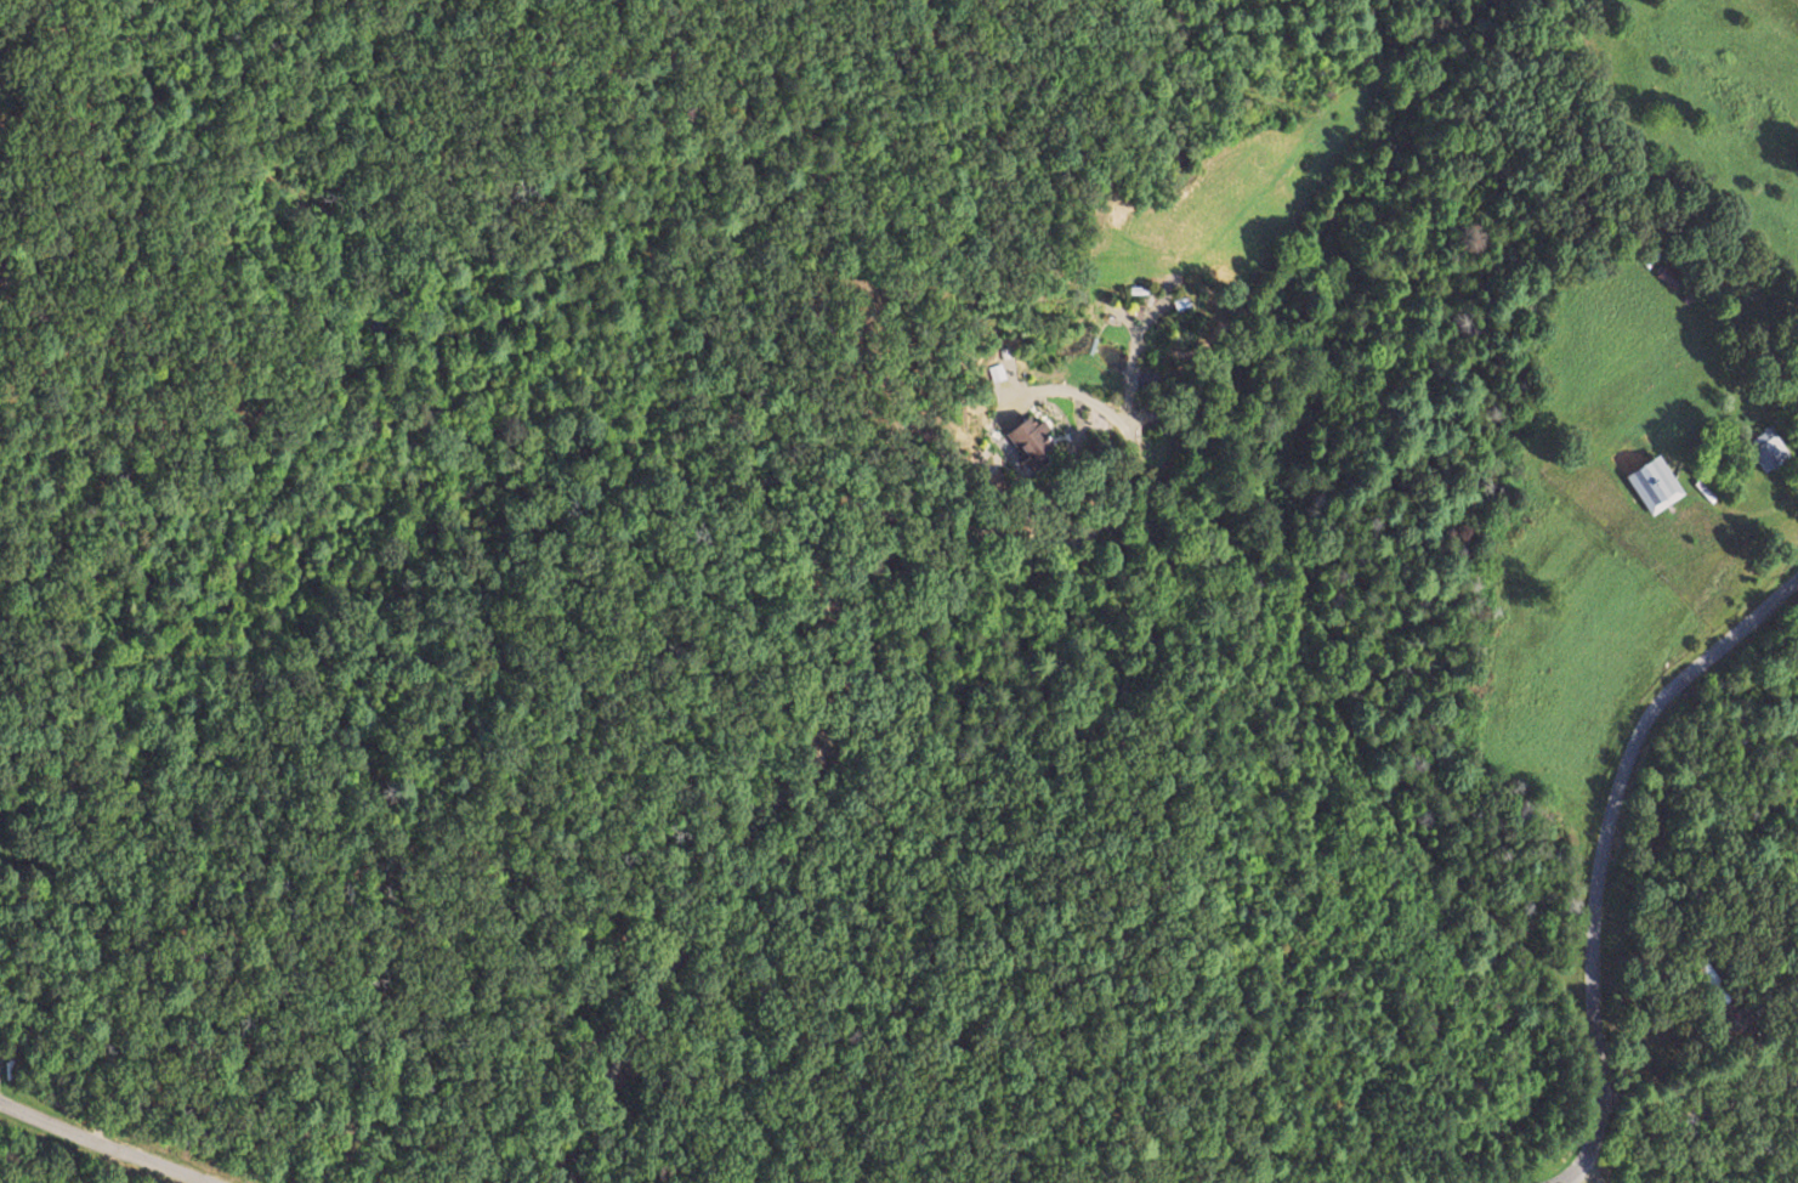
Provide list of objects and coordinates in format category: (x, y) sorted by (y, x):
building: (1181, 302)
building: (1028, 442)
building: (1765, 448)
building: (1652, 485)
road: (1596, 854)
road: (124, 1139)
road: (1588, 1176)

